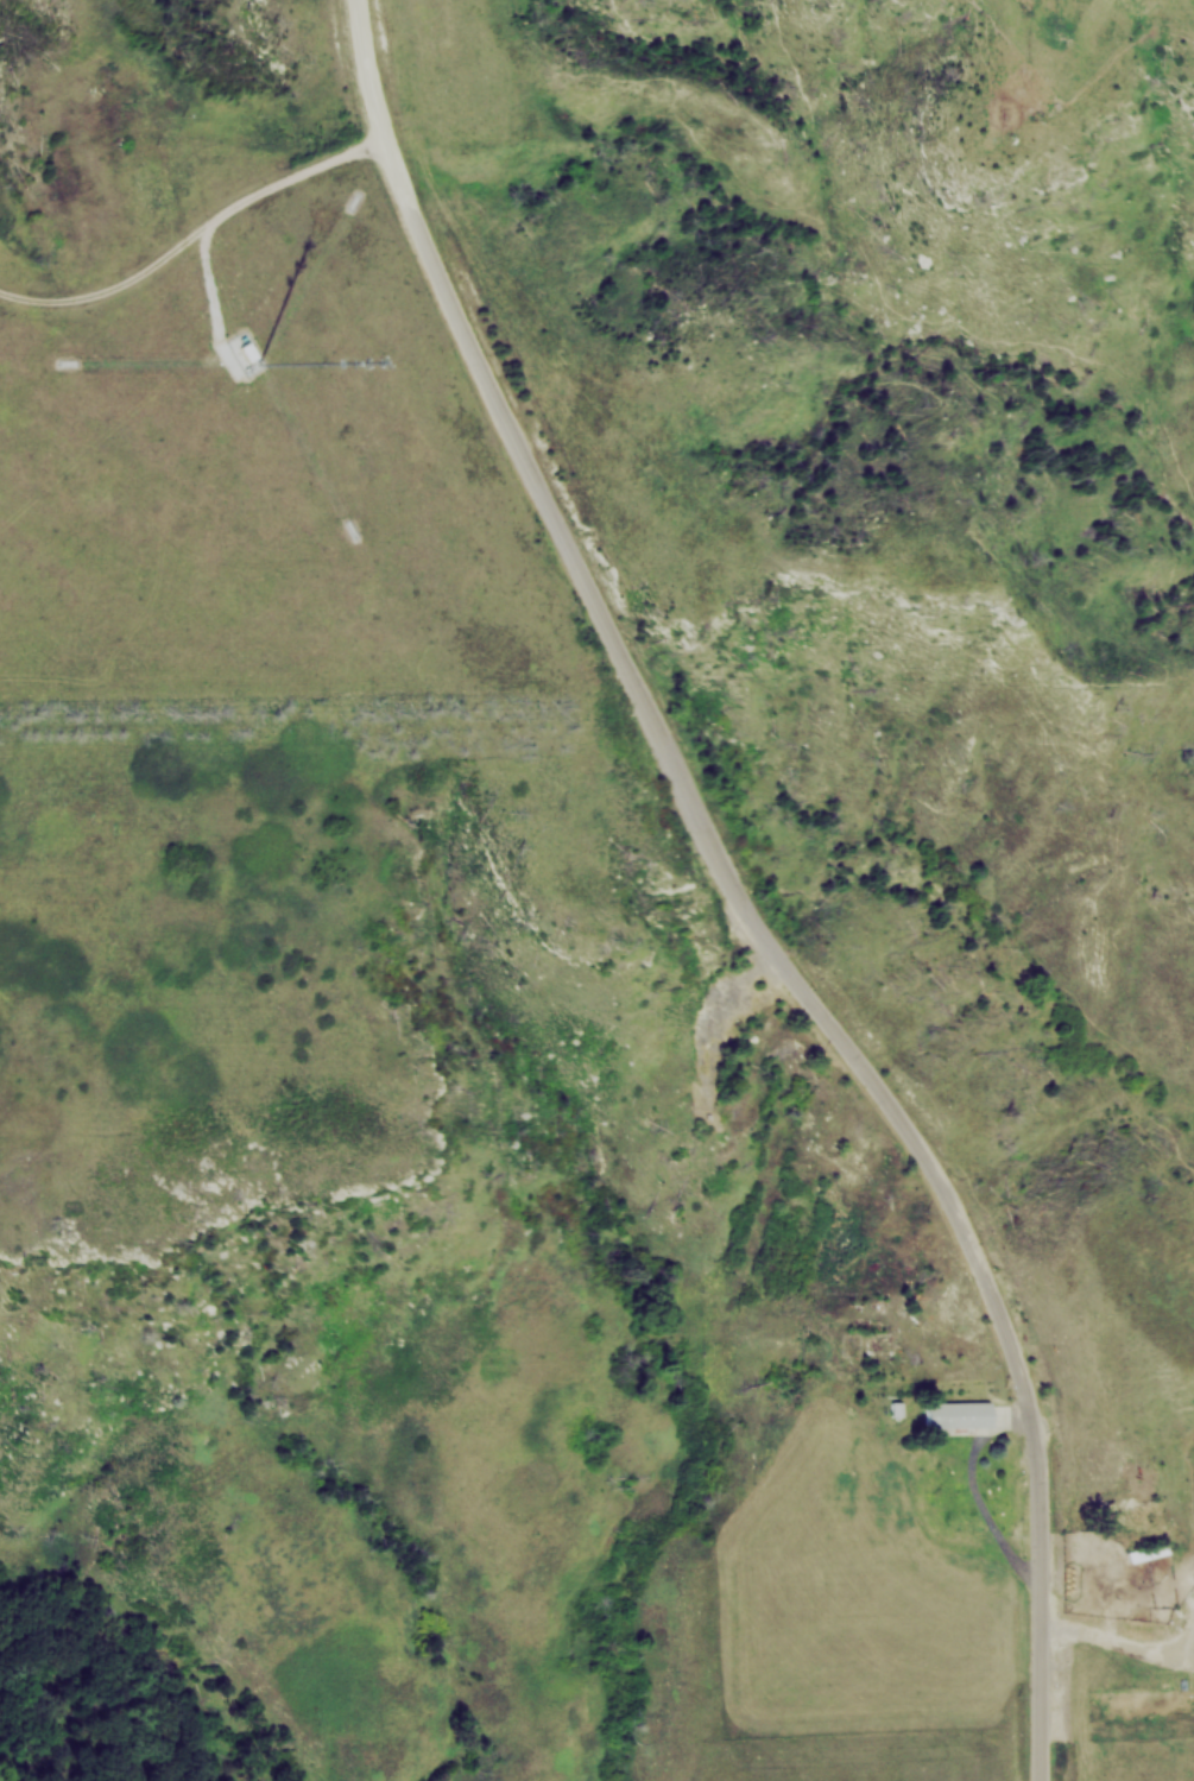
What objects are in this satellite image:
road: (366, 97)
road: (189, 238)
building: (248, 352)
road: (797, 967)
building: (958, 1414)
building: (1148, 1552)

